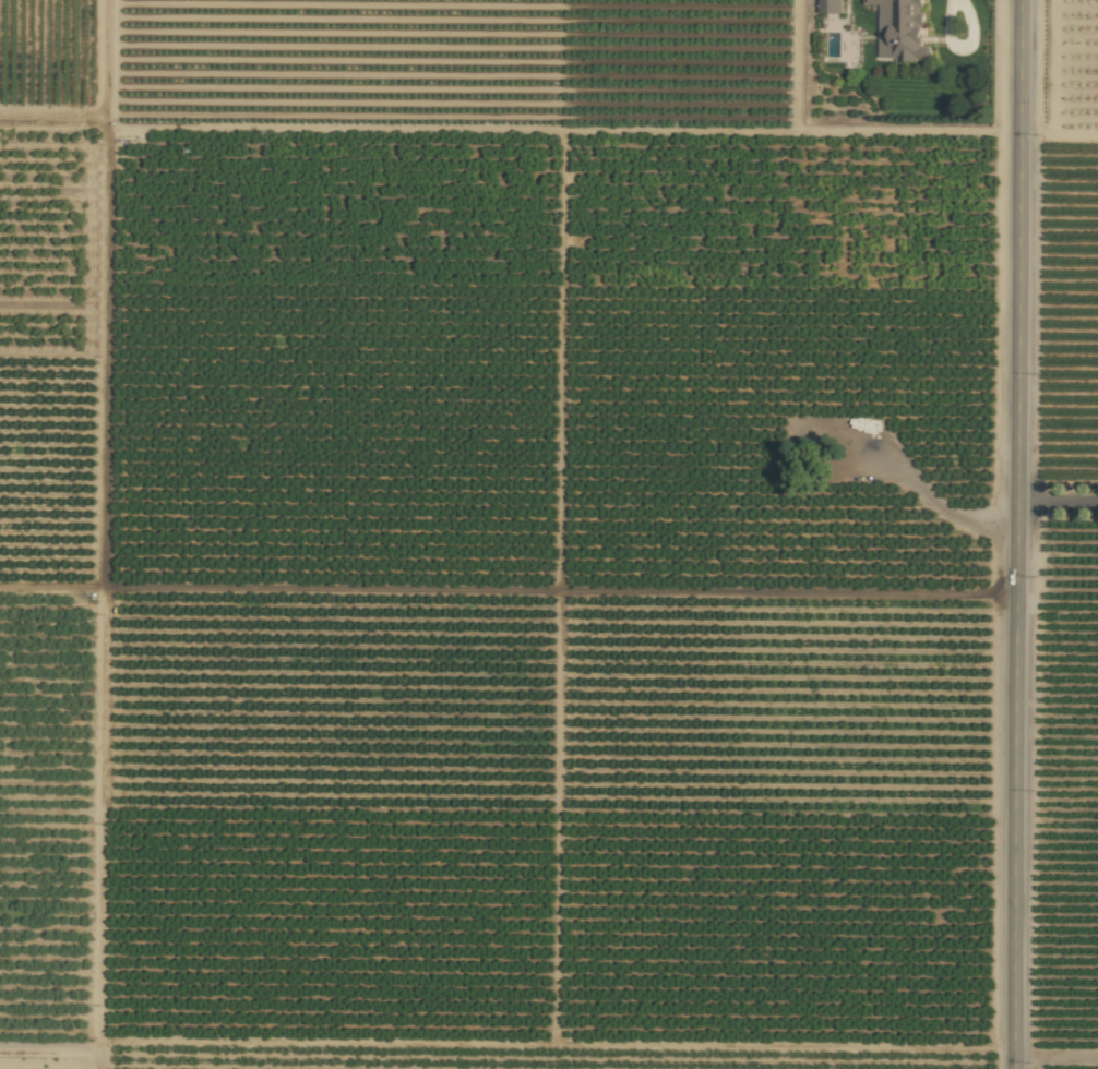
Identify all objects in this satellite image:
building: (830, 5)
building: (900, 29)
road: (1057, 501)
road: (1015, 533)
road: (1057, 600)

